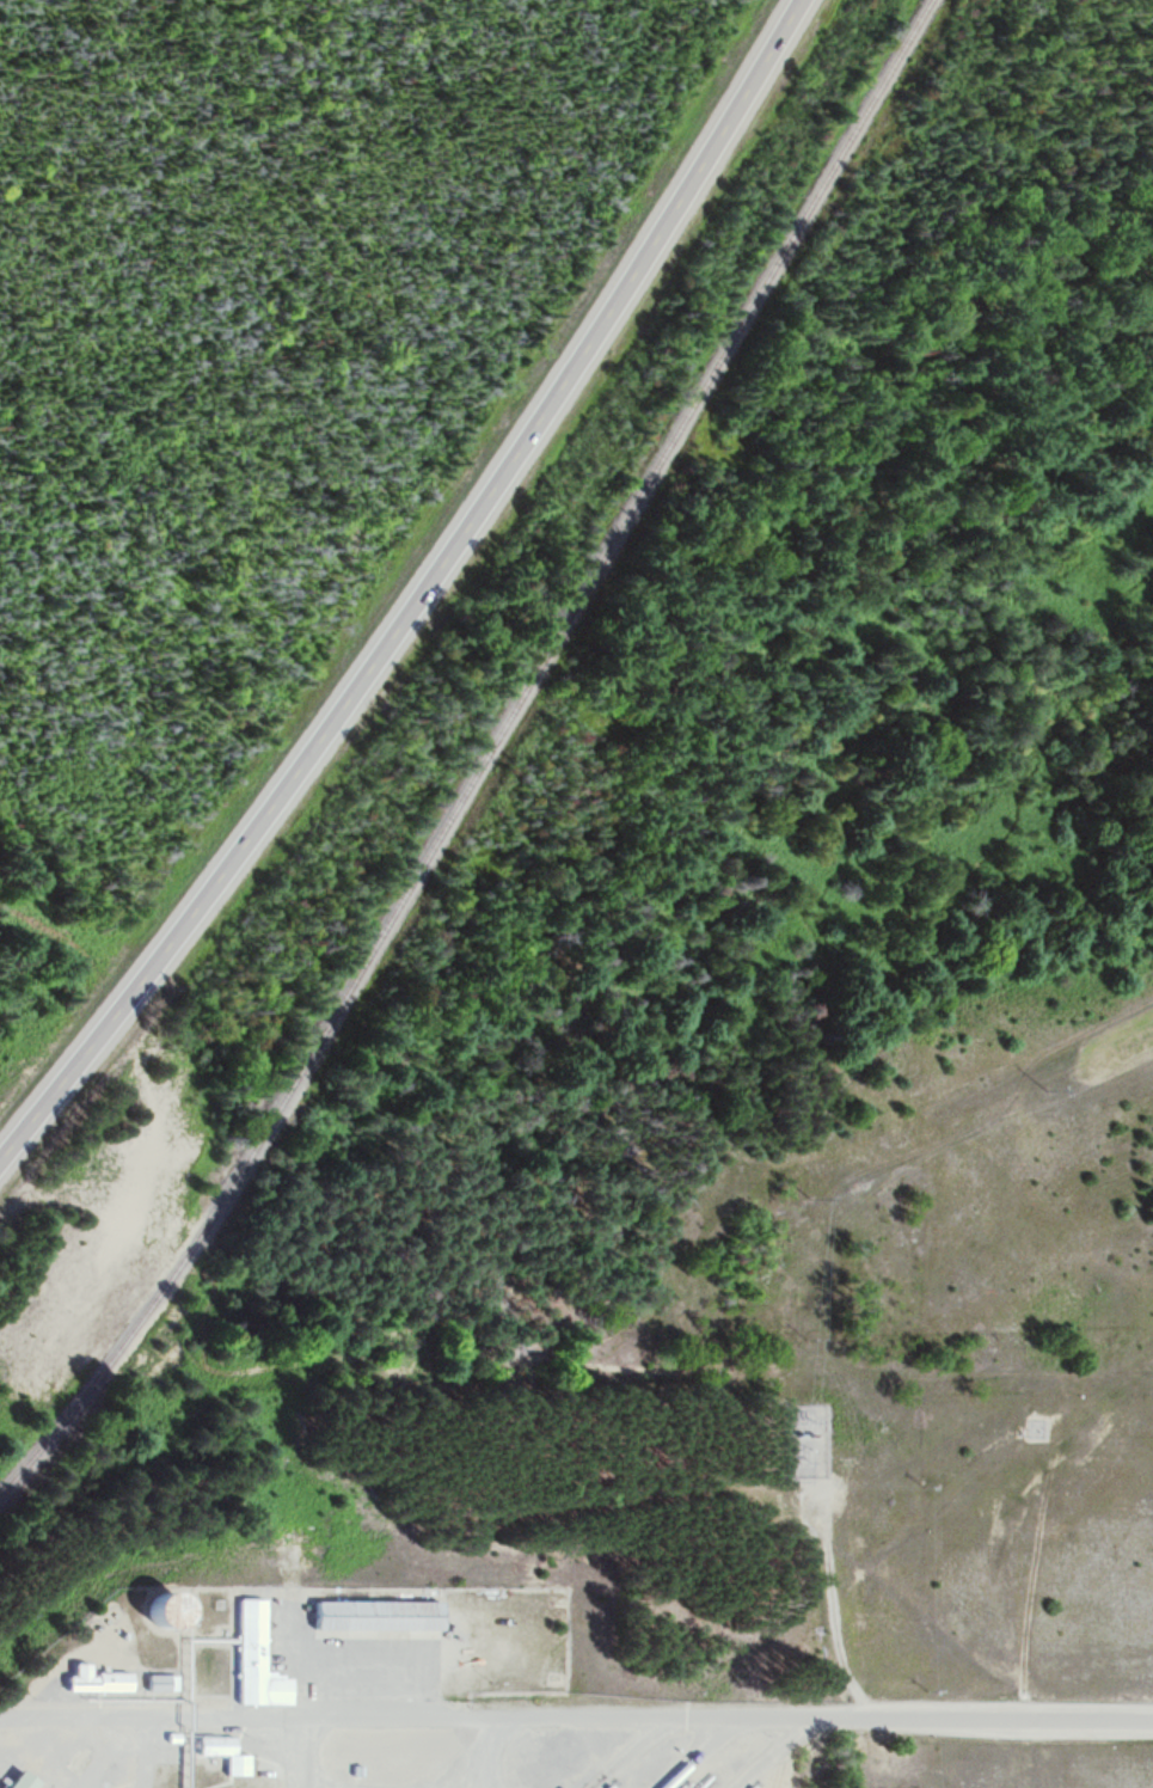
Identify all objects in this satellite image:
road: (422, 598)
railway: (484, 763)
power substation: (809, 1440)
building: (158, 1611)
water tower: (158, 1611)
building: (374, 1617)
building: (253, 1658)
building: (90, 1680)
building: (159, 1683)
road: (575, 1722)
building: (171, 1738)
building: (222, 1752)
building: (17, 1780)

